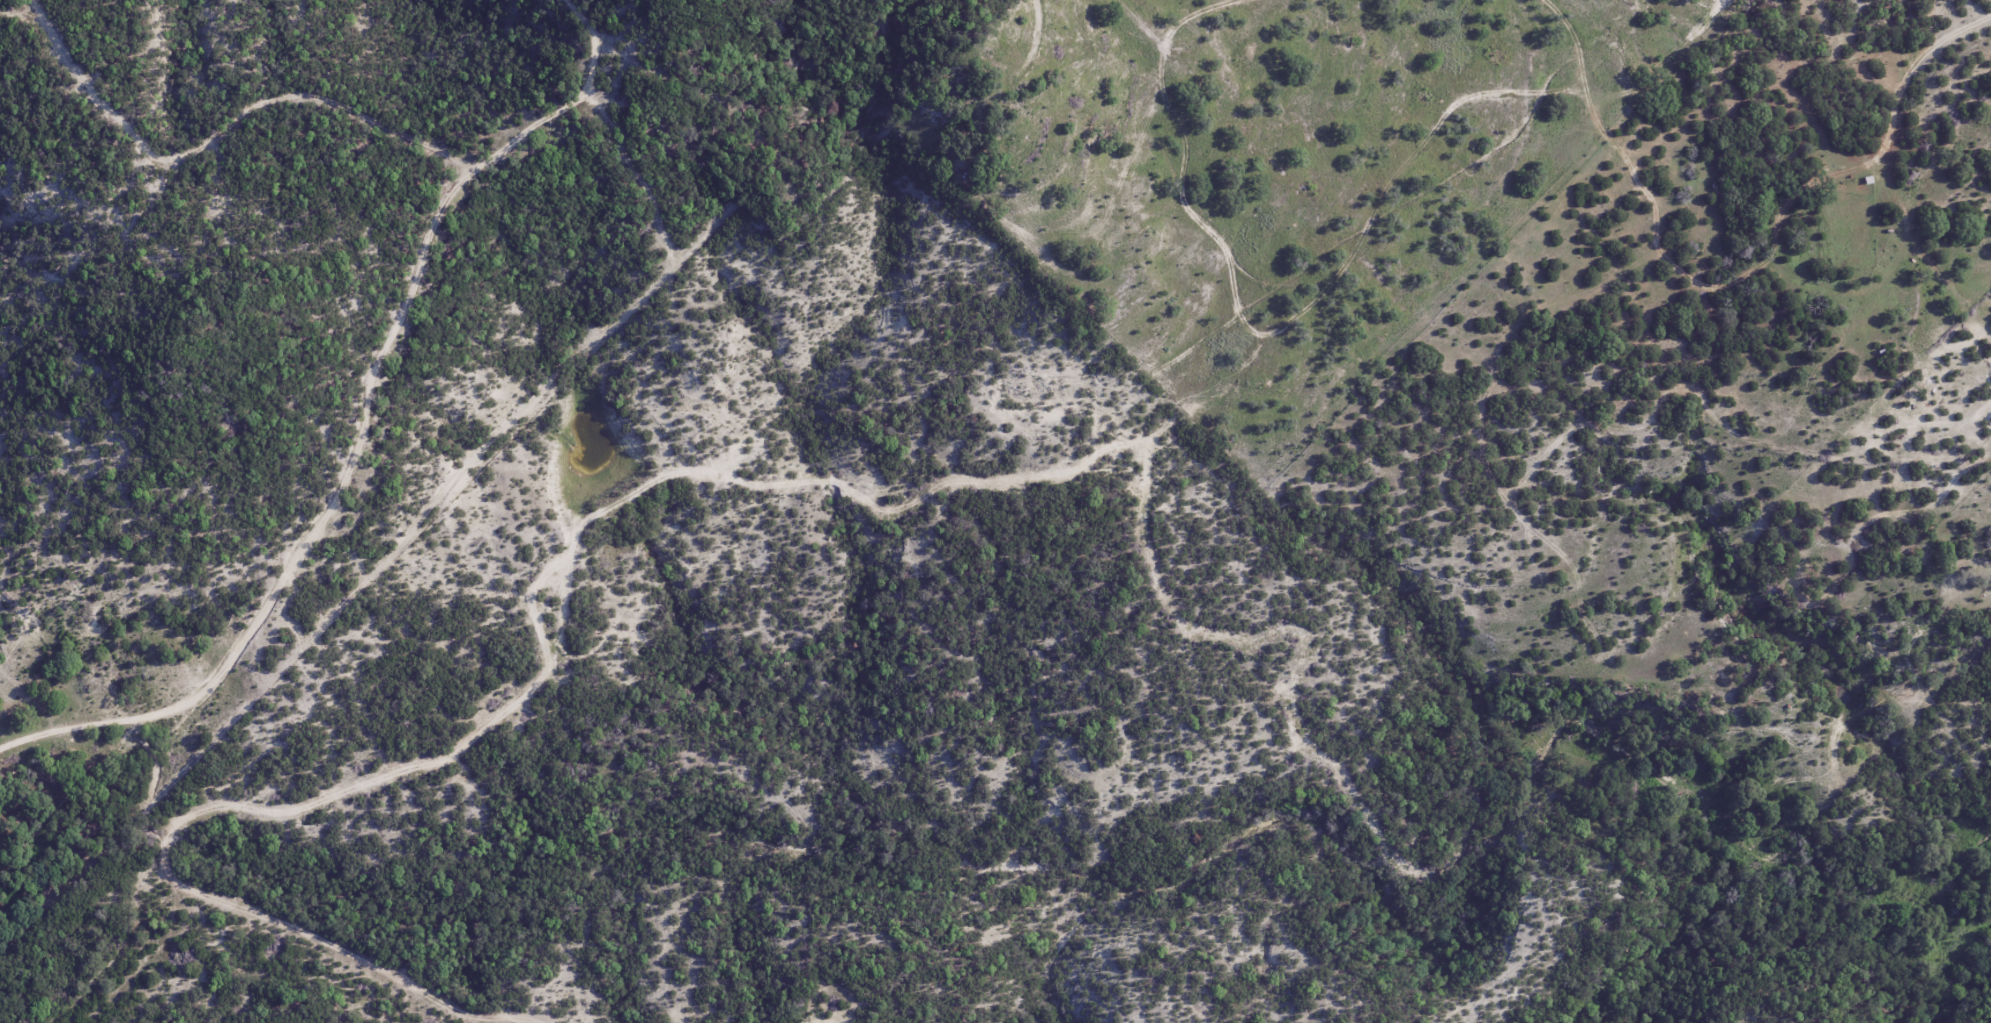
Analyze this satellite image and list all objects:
road: (573, 103)
road: (228, 128)
road: (315, 546)
road: (309, 931)

